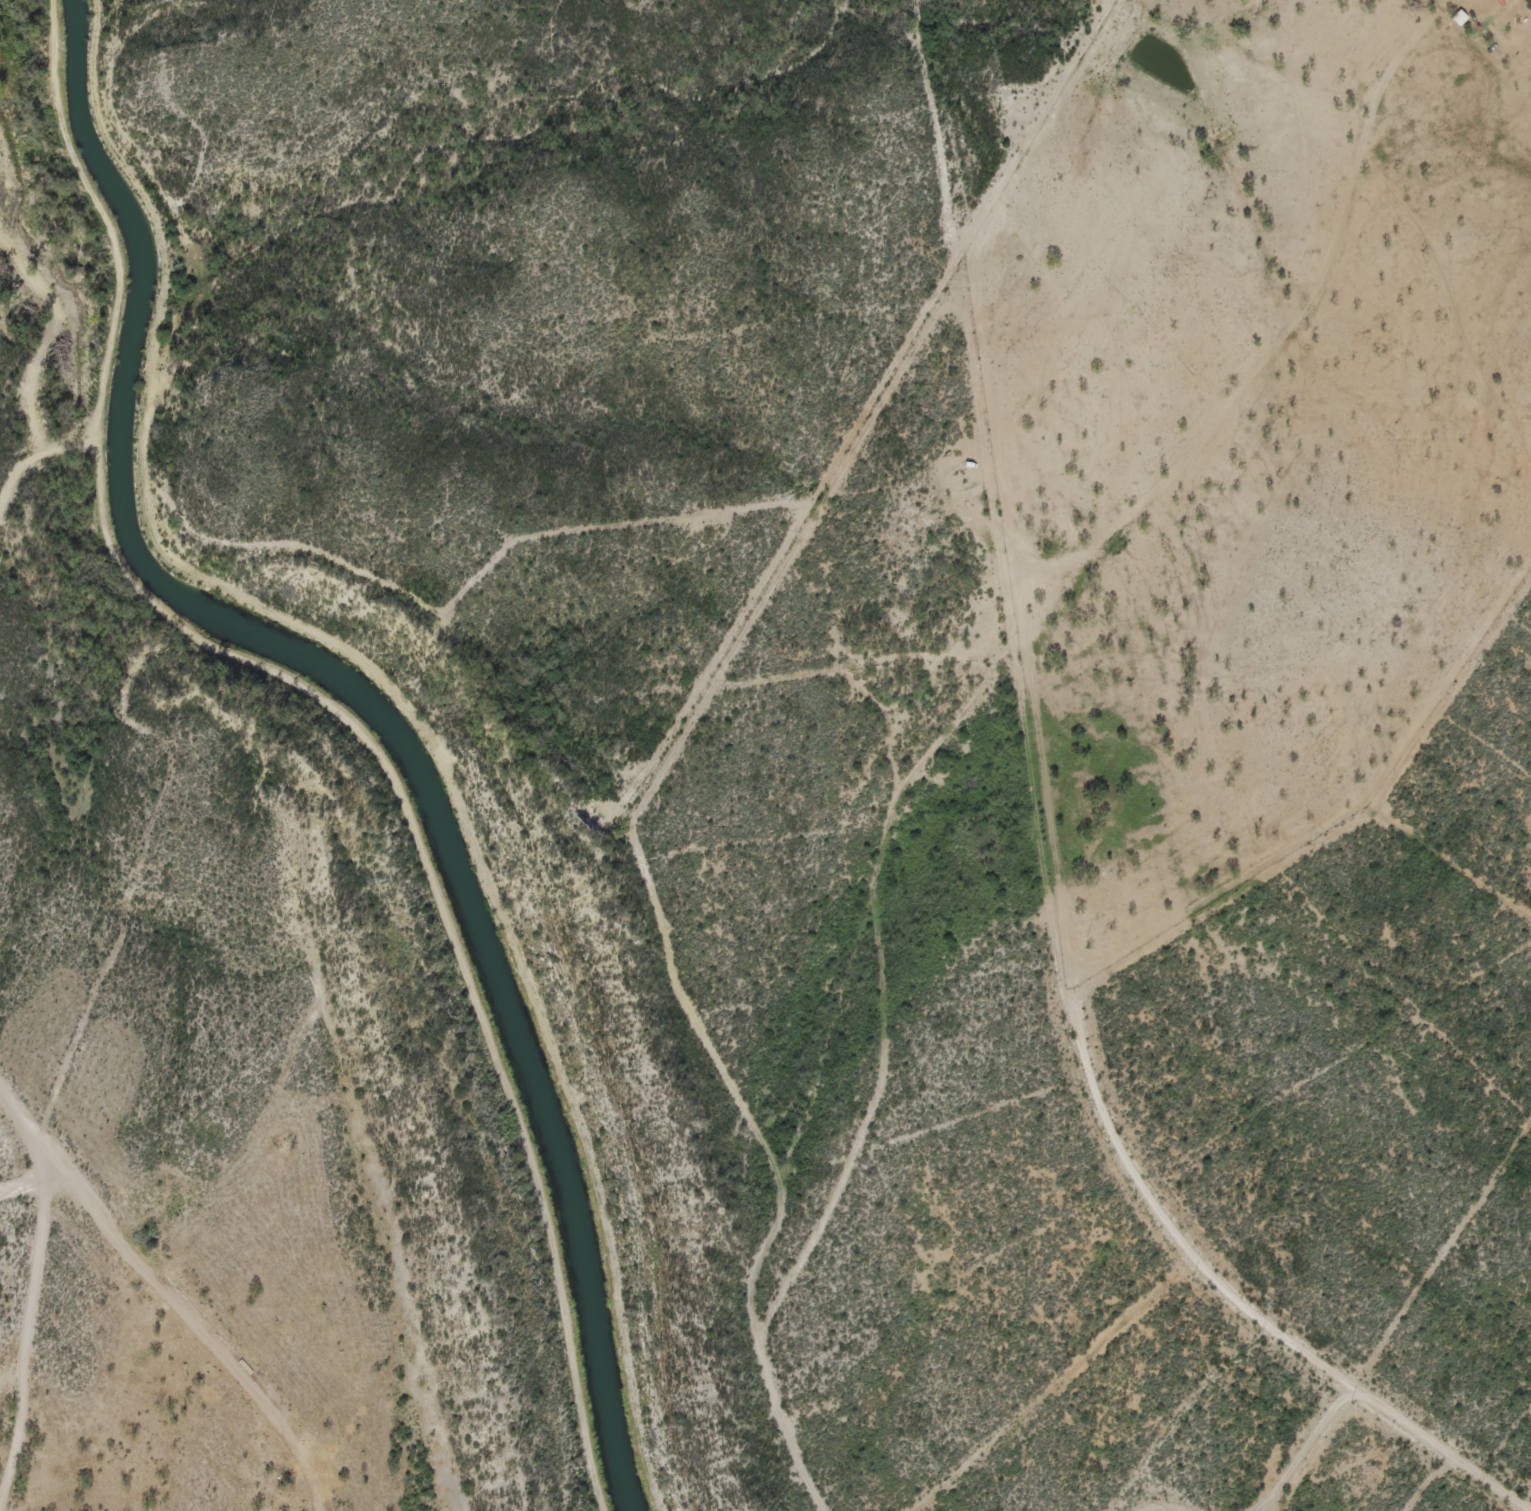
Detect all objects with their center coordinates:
building: (1498, 2)
road: (800, 490)
road: (1088, 577)
road: (768, 1248)
road: (171, 1294)
road: (31, 1339)
road: (1390, 1456)

